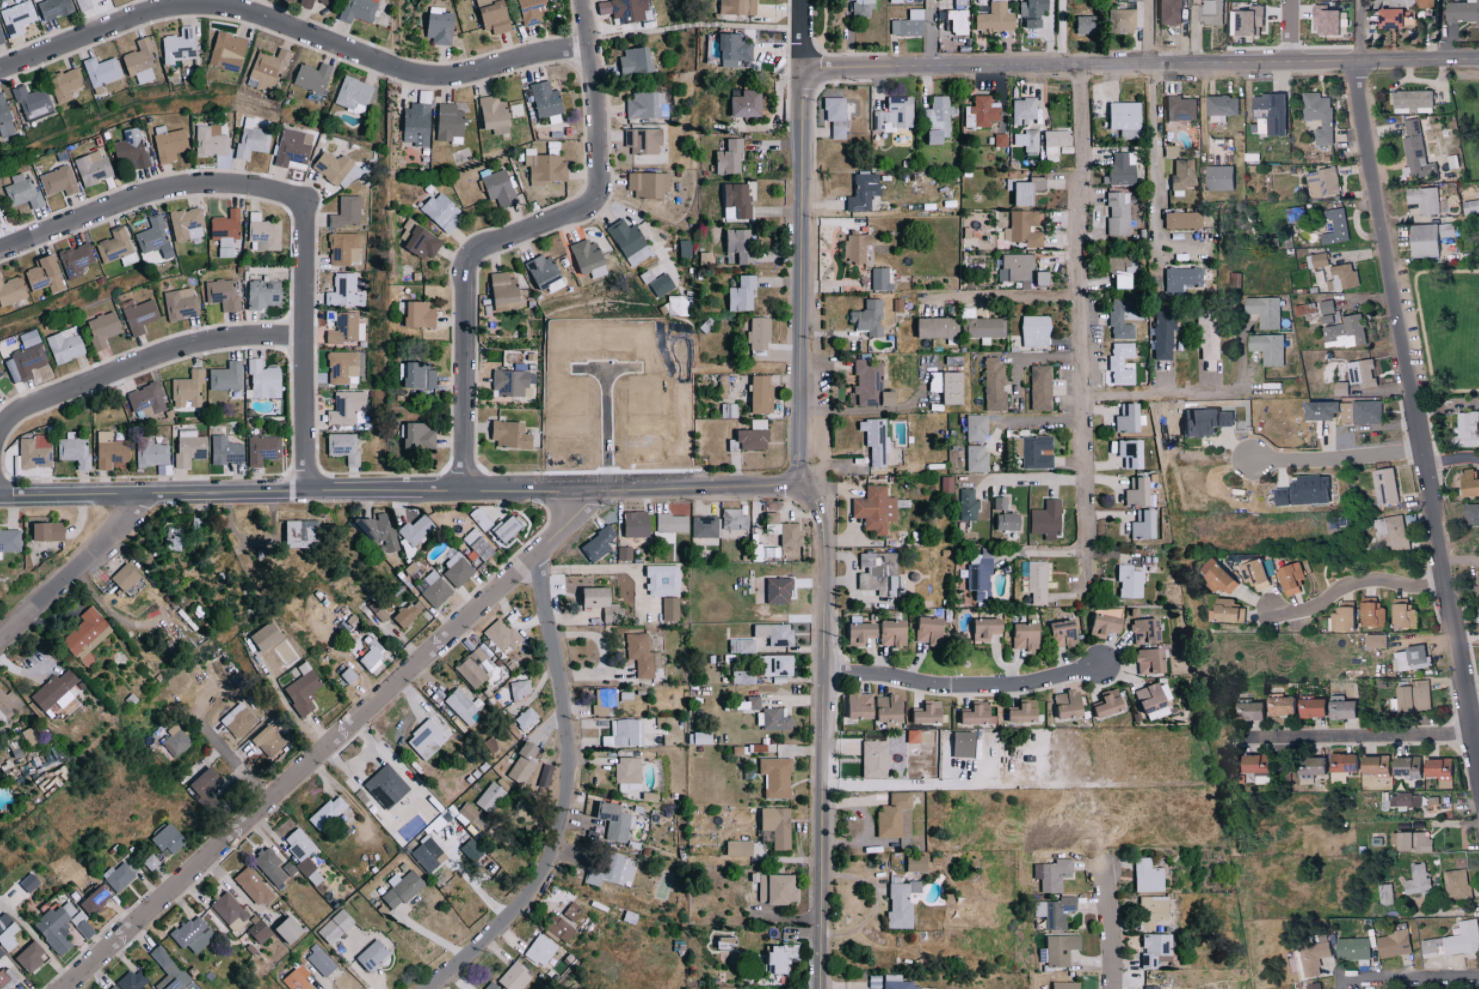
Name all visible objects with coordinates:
building: (1129, 0)
building: (84, 4)
building: (1422, 4)
building: (308, 6)
building: (732, 7)
building: (861, 7)
building: (56, 8)
building: (359, 10)
building: (533, 10)
building: (626, 10)
building: (1461, 11)
building: (1029, 12)
building: (1168, 12)
building: (1209, 12)
building: (496, 16)
building: (18, 17)
building: (993, 18)
building: (1393, 18)
building: (954, 21)
building: (1118, 21)
building: (1323, 21)
building: (1247, 22)
building: (906, 24)
building: (1081, 24)
building: (441, 26)
road: (292, 31)
road: (1290, 31)
road: (1363, 31)
road: (1061, 32)
road: (1148, 32)
road: (801, 33)
road: (930, 33)
building: (1, 39)
building: (180, 46)
building: (730, 47)
building: (229, 51)
building: (141, 61)
building: (630, 61)
road: (1139, 65)
building: (102, 71)
building: (267, 71)
building: (314, 78)
building: (66, 84)
building: (354, 94)
building: (1413, 101)
building: (32, 102)
building: (547, 102)
building: (642, 104)
building: (743, 104)
building: (1179, 108)
building: (1220, 108)
building: (1021, 110)
building: (980, 112)
building: (496, 114)
building: (1267, 114)
building: (892, 115)
building: (833, 116)
building: (1318, 116)
building: (5, 119)
building: (1122, 119)
building: (934, 120)
park: (1468, 120)
building: (451, 123)
building: (418, 125)
building: (251, 139)
building: (641, 140)
building: (1025, 140)
building: (1052, 140)
building: (212, 141)
building: (999, 141)
building: (170, 143)
building: (131, 149)
building: (294, 149)
building: (1167, 151)
building: (1414, 152)
building: (726, 157)
building: (93, 168)
building: (545, 168)
building: (1119, 169)
building: (337, 170)
building: (1181, 174)
road: (1154, 176)
building: (1217, 178)
building: (59, 181)
building: (1321, 182)
building: (647, 184)
road: (164, 185)
building: (498, 188)
building: (22, 191)
building: (860, 192)
building: (1016, 193)
building: (734, 199)
building: (1422, 200)
building: (1470, 207)
building: (443, 211)
building: (348, 212)
building: (1116, 213)
building: (1180, 220)
building: (187, 224)
building: (1019, 227)
building: (1335, 227)
building: (1445, 230)
building: (226, 232)
building: (264, 233)
road: (510, 233)
building: (154, 238)
park: (1477, 239)
building: (420, 240)
building: (1421, 241)
building: (630, 242)
building: (736, 245)
building: (117, 247)
building: (685, 248)
building: (853, 248)
building: (344, 249)
building: (586, 256)
building: (706, 259)
building: (77, 260)
building: (1316, 260)
building: (1017, 268)
building: (542, 272)
building: (46, 275)
building: (1181, 275)
building: (647, 277)
building: (1341, 277)
building: (1039, 278)
building: (878, 279)
building: (662, 285)
building: (12, 291)
building: (345, 291)
building: (506, 292)
building: (740, 293)
building: (222, 294)
building: (265, 294)
road: (1002, 296)
building: (179, 304)
building: (677, 306)
building: (1325, 306)
building: (1263, 311)
building: (421, 315)
building: (140, 317)
building: (865, 317)
building: (978, 325)
road: (1435, 325)
park: (1449, 326)
building: (929, 327)
building: (347, 328)
building: (103, 329)
building: (1032, 329)
building: (1344, 331)
road: (1082, 332)
building: (758, 333)
building: (1162, 333)
building: (30, 339)
building: (65, 345)
building: (1267, 348)
road: (144, 356)
road: (305, 361)
building: (1119, 362)
building: (25, 363)
building: (344, 367)
building: (1359, 373)
building: (0, 374)
building: (420, 376)
building: (264, 380)
building: (510, 383)
building: (866, 383)
building: (992, 383)
building: (945, 386)
building: (1038, 387)
building: (189, 390)
road: (1163, 392)
building: (757, 393)
building: (146, 400)
road: (1448, 404)
road: (1417, 405)
building: (347, 407)
building: (1318, 409)
building: (1344, 412)
building: (1365, 412)
building: (1125, 418)
building: (1223, 418)
road: (1030, 421)
building: (1196, 421)
building: (974, 426)
road: (602, 428)
building: (1467, 429)
building: (509, 436)
building: (419, 437)
building: (748, 439)
building: (873, 441)
building: (345, 447)
building: (191, 448)
building: (226, 448)
building: (263, 449)
building: (75, 450)
building: (112, 451)
building: (1035, 451)
building: (1126, 451)
building: (35, 452)
building: (153, 455)
building: (973, 457)
road: (1453, 458)
road: (1340, 461)
road: (1033, 479)
building: (1468, 482)
building: (944, 484)
building: (1385, 485)
building: (1133, 490)
building: (1304, 491)
road: (403, 492)
building: (999, 502)
building: (965, 504)
road: (848, 506)
building: (872, 508)
building: (1471, 513)
building: (732, 519)
building: (1006, 521)
building: (1043, 521)
building: (670, 522)
building: (633, 523)
building: (1139, 523)
road: (822, 525)
building: (703, 526)
building: (508, 527)
building: (416, 529)
building: (49, 530)
building: (379, 530)
building: (779, 530)
building: (1391, 531)
building: (301, 533)
building: (10, 540)
building: (176, 541)
building: (479, 543)
building: (595, 543)
building: (622, 552)
building: (761, 552)
road: (1462, 560)
building: (884, 563)
road: (76, 564)
building: (458, 570)
building: (978, 572)
building: (1252, 573)
building: (1213, 575)
building: (126, 576)
building: (1288, 579)
building: (659, 580)
building: (1035, 581)
building: (1128, 581)
building: (434, 589)
building: (770, 589)
road: (1356, 589)
building: (599, 596)
building: (668, 608)
building: (1222, 609)
building: (380, 611)
building: (409, 613)
building: (1370, 613)
building: (1401, 613)
building: (1477, 616)
building: (1340, 618)
building: (1099, 624)
building: (923, 628)
building: (981, 628)
building: (1140, 629)
building: (84, 630)
building: (854, 631)
building: (887, 632)
building: (1059, 632)
building: (772, 633)
building: (503, 634)
building: (1021, 635)
building: (268, 636)
building: (99, 637)
building: (1374, 640)
building: (739, 645)
building: (372, 654)
building: (642, 654)
building: (1410, 658)
building: (1145, 660)
building: (772, 664)
building: (474, 668)
building: (349, 675)
building: (741, 676)
road: (965, 686)
building: (521, 688)
building: (304, 689)
building: (56, 695)
building: (626, 695)
building: (1411, 696)
building: (604, 700)
building: (8, 702)
building: (747, 702)
building: (1063, 703)
building: (1103, 703)
building: (856, 704)
road: (286, 705)
building: (1279, 705)
building: (464, 707)
building: (883, 707)
building: (1309, 707)
building: (1339, 709)
building: (1246, 710)
building: (1018, 711)
road: (1476, 712)
building: (970, 713)
building: (921, 714)
building: (527, 718)
building: (774, 718)
building: (239, 720)
road: (1477, 732)
building: (624, 733)
building: (30, 735)
building: (695, 737)
road: (1360, 738)
road: (331, 739)
building: (427, 739)
building: (177, 741)
building: (269, 741)
road: (225, 754)
building: (872, 758)
building: (524, 762)
building: (1340, 762)
building: (1372, 764)
building: (1403, 766)
building: (1436, 767)
building: (1252, 768)
building: (546, 776)
building: (773, 776)
building: (205, 781)
building: (387, 786)
road: (566, 796)
building: (491, 797)
building: (208, 800)
building: (1404, 800)
building: (469, 812)
building: (328, 813)
building: (892, 815)
building: (616, 821)
building: (773, 825)
building: (168, 839)
building: (1412, 841)
building: (738, 847)
building: (472, 850)
building: (429, 854)
building: (304, 855)
building: (265, 858)
building: (151, 861)
building: (912, 862)
building: (1051, 874)
building: (1143, 875)
building: (119, 876)
building: (274, 876)
building: (1417, 879)
building: (30, 882)
building: (1455, 883)
building: (254, 886)
building: (775, 888)
road: (236, 889)
building: (403, 890)
building: (1385, 894)
building: (96, 900)
building: (897, 903)
building: (1054, 911)
building: (1148, 911)
building: (227, 912)
building: (577, 914)
road: (1110, 924)
building: (336, 926)
building: (561, 928)
building: (7, 929)
building: (51, 929)
building: (292, 930)
building: (260, 931)
road: (32, 933)
building: (195, 934)
building: (1452, 941)
building: (726, 942)
building: (1392, 944)
building: (1352, 948)
building: (542, 949)
building: (1057, 949)
building: (1152, 949)
building: (1, 952)
building: (374, 954)
building: (31, 956)
building: (783, 956)
building: (1314, 957)
building: (321, 961)
building: (1292, 961)
building: (171, 970)
building: (516, 976)
road: (1414, 977)
building: (298, 978)
building: (7, 979)
building: (134, 980)
building: (897, 985)
building: (1062, 985)
building: (492, 986)
building: (1316, 986)
building: (114, 987)
building: (1149, 987)

